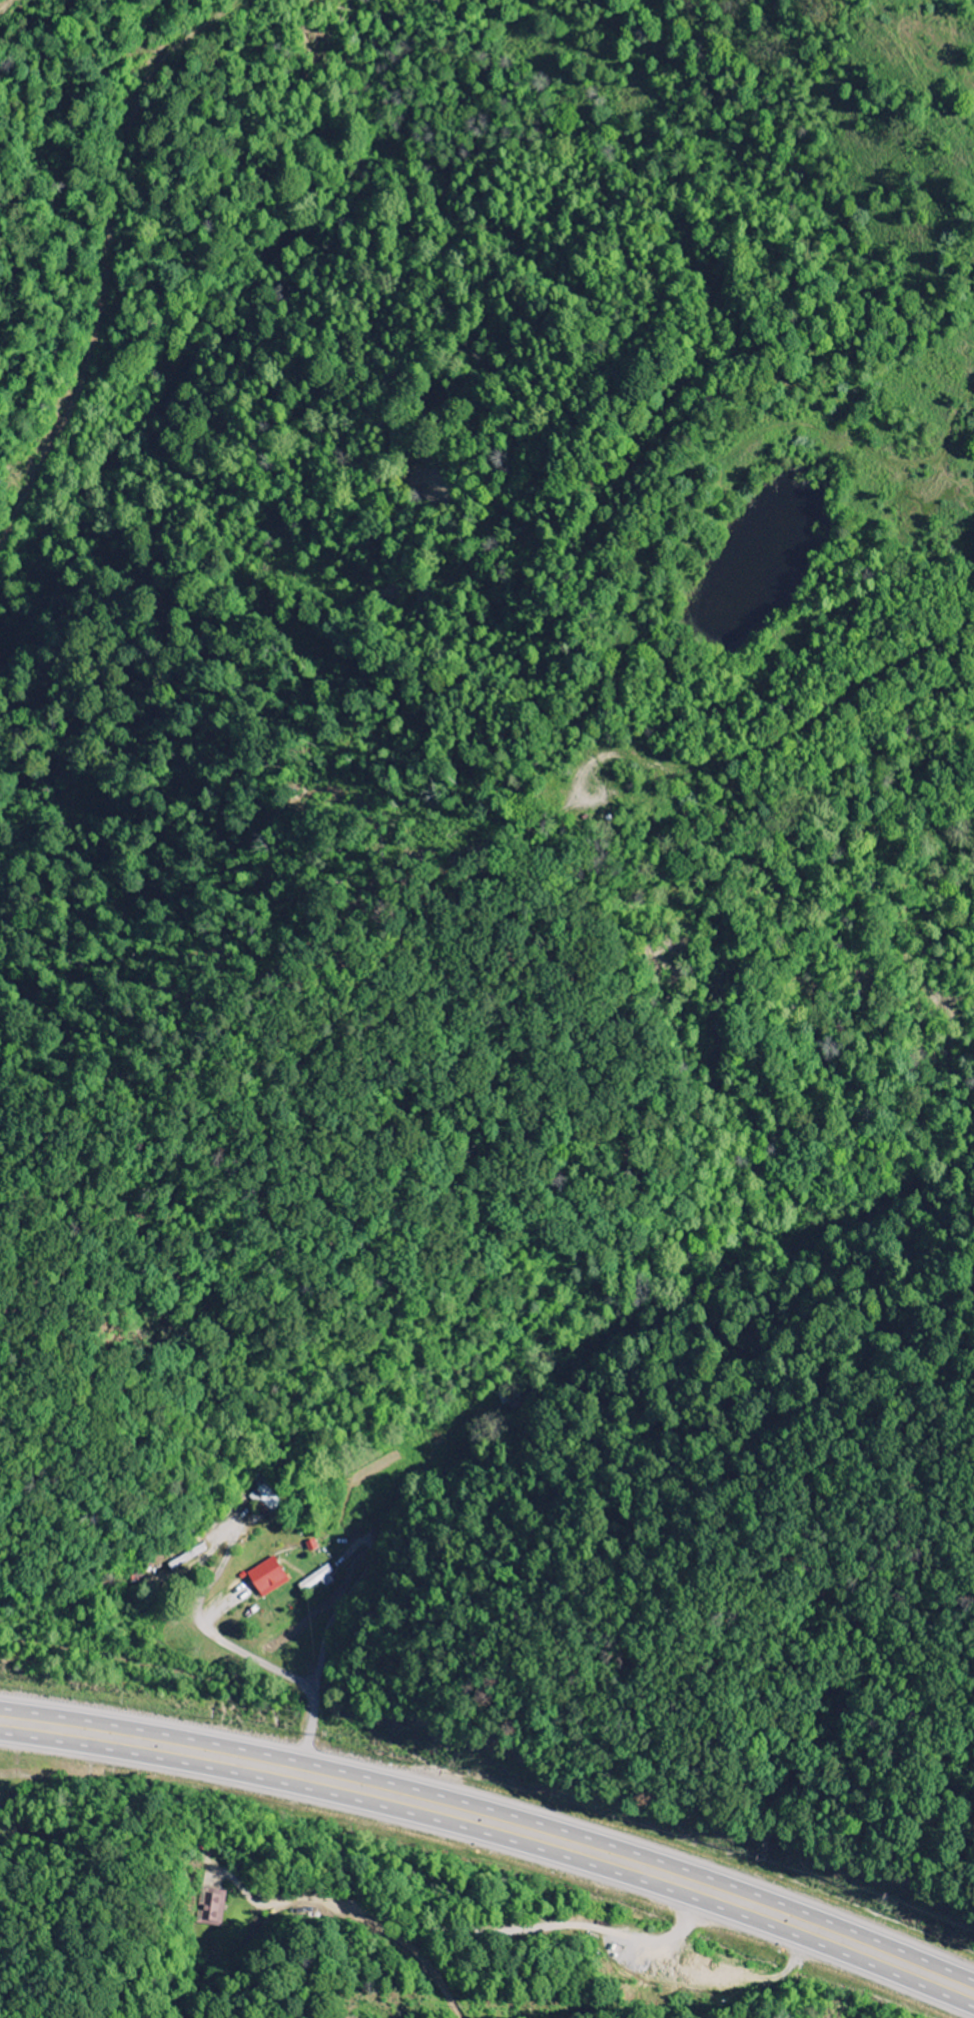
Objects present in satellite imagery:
building: (267, 1577)
building: (317, 1579)
road: (168, 1596)
road: (267, 1666)
road: (495, 1811)
road: (496, 1838)
building: (213, 1907)
road: (469, 1929)

